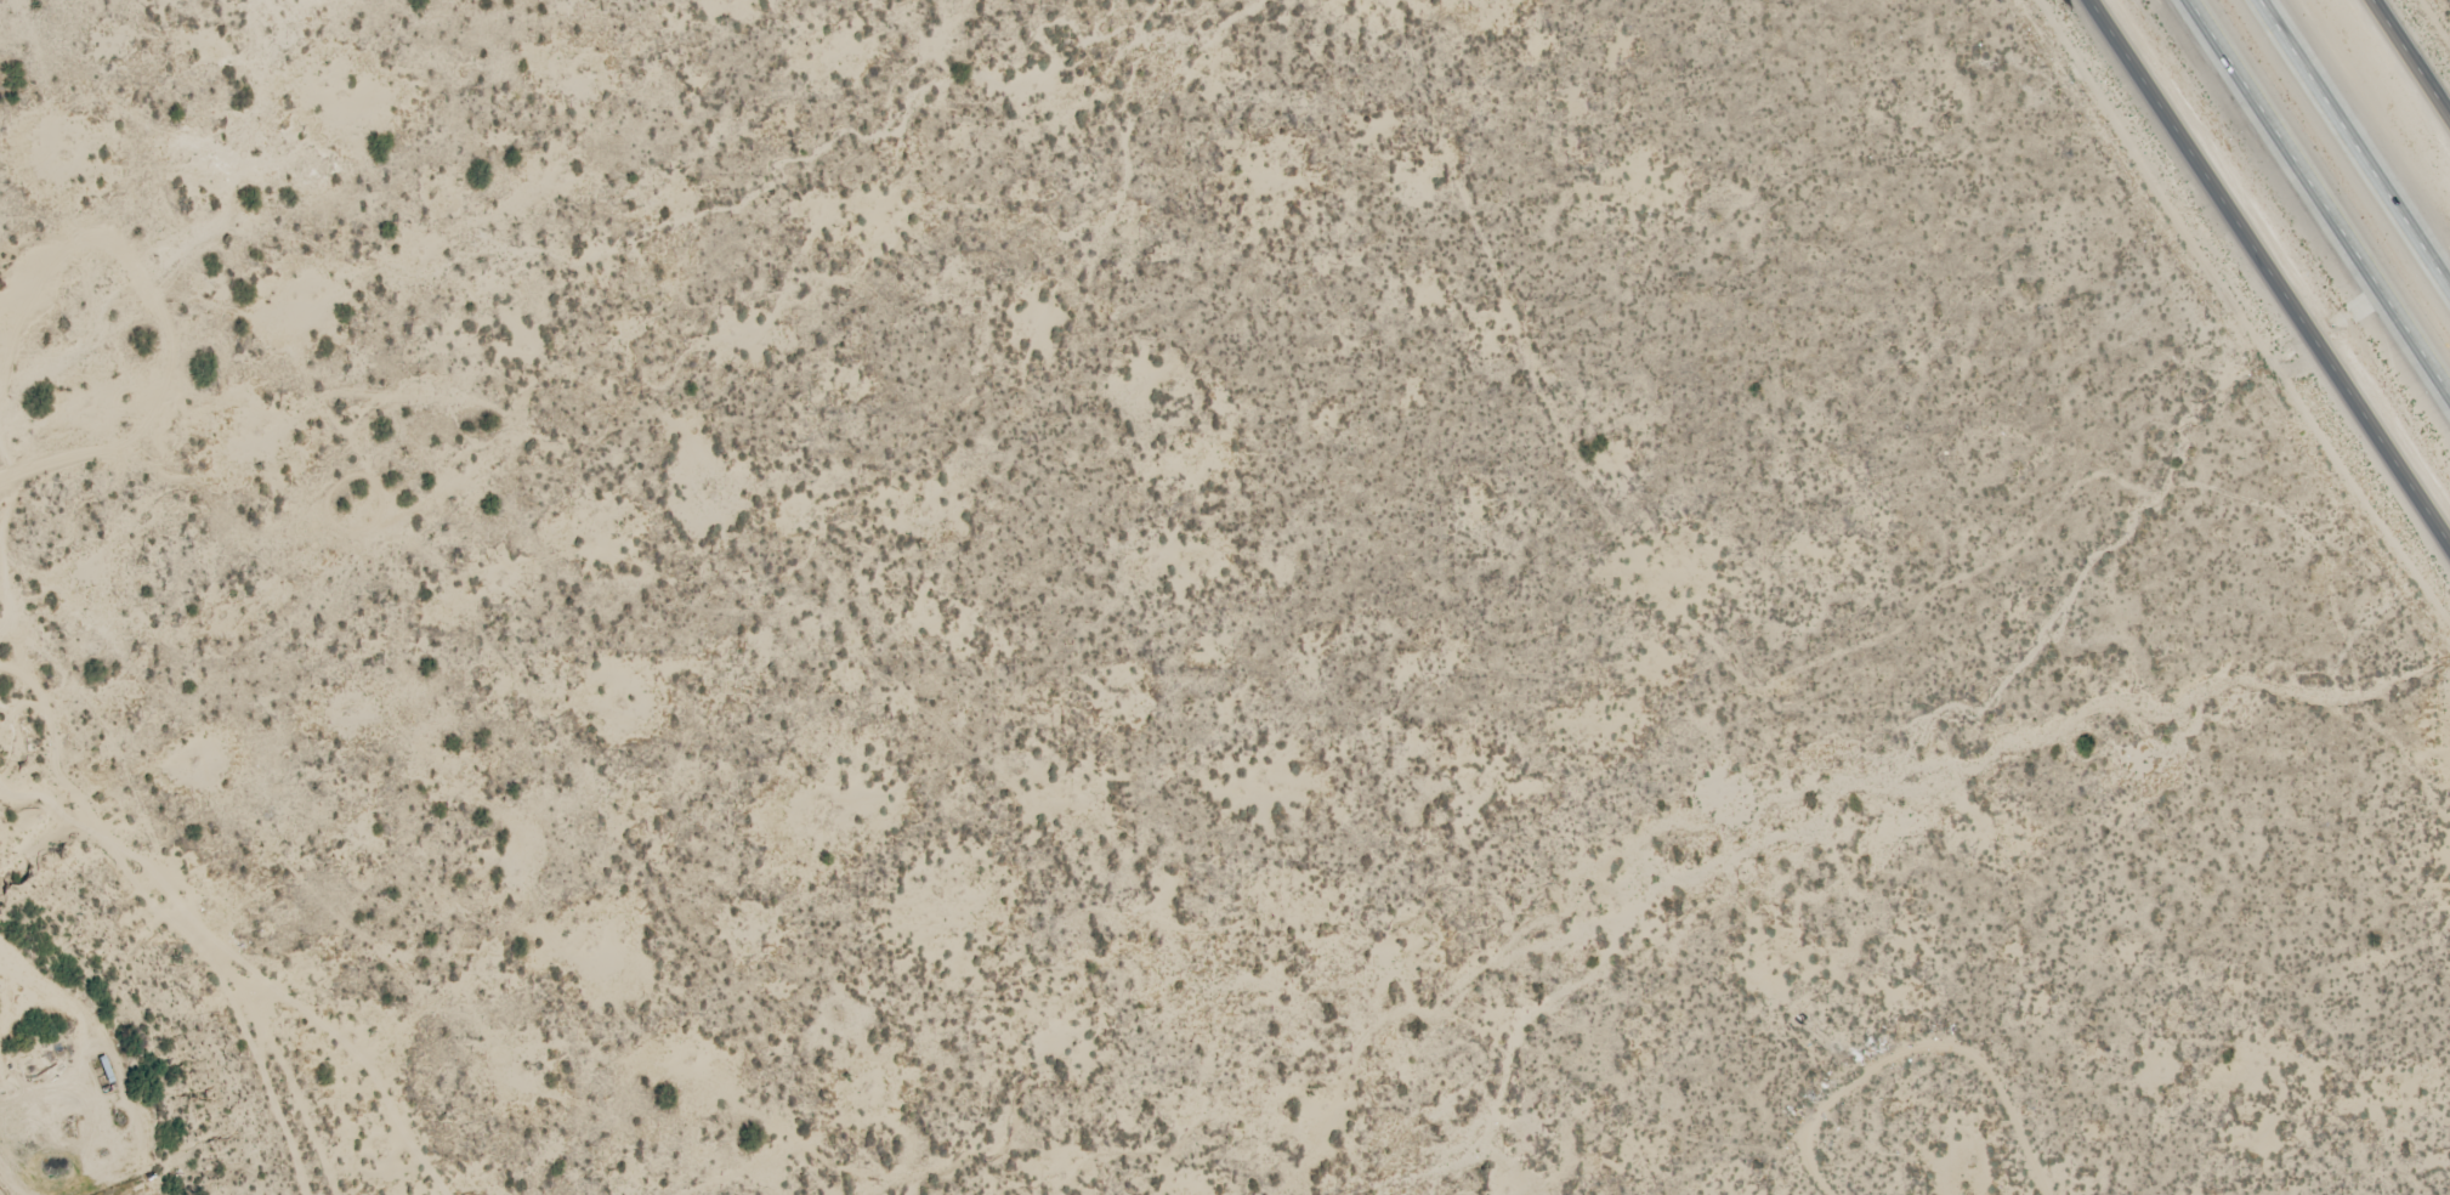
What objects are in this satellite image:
road: (2412, 56)
road: (2354, 143)
road: (2319, 198)
road: (2270, 271)

